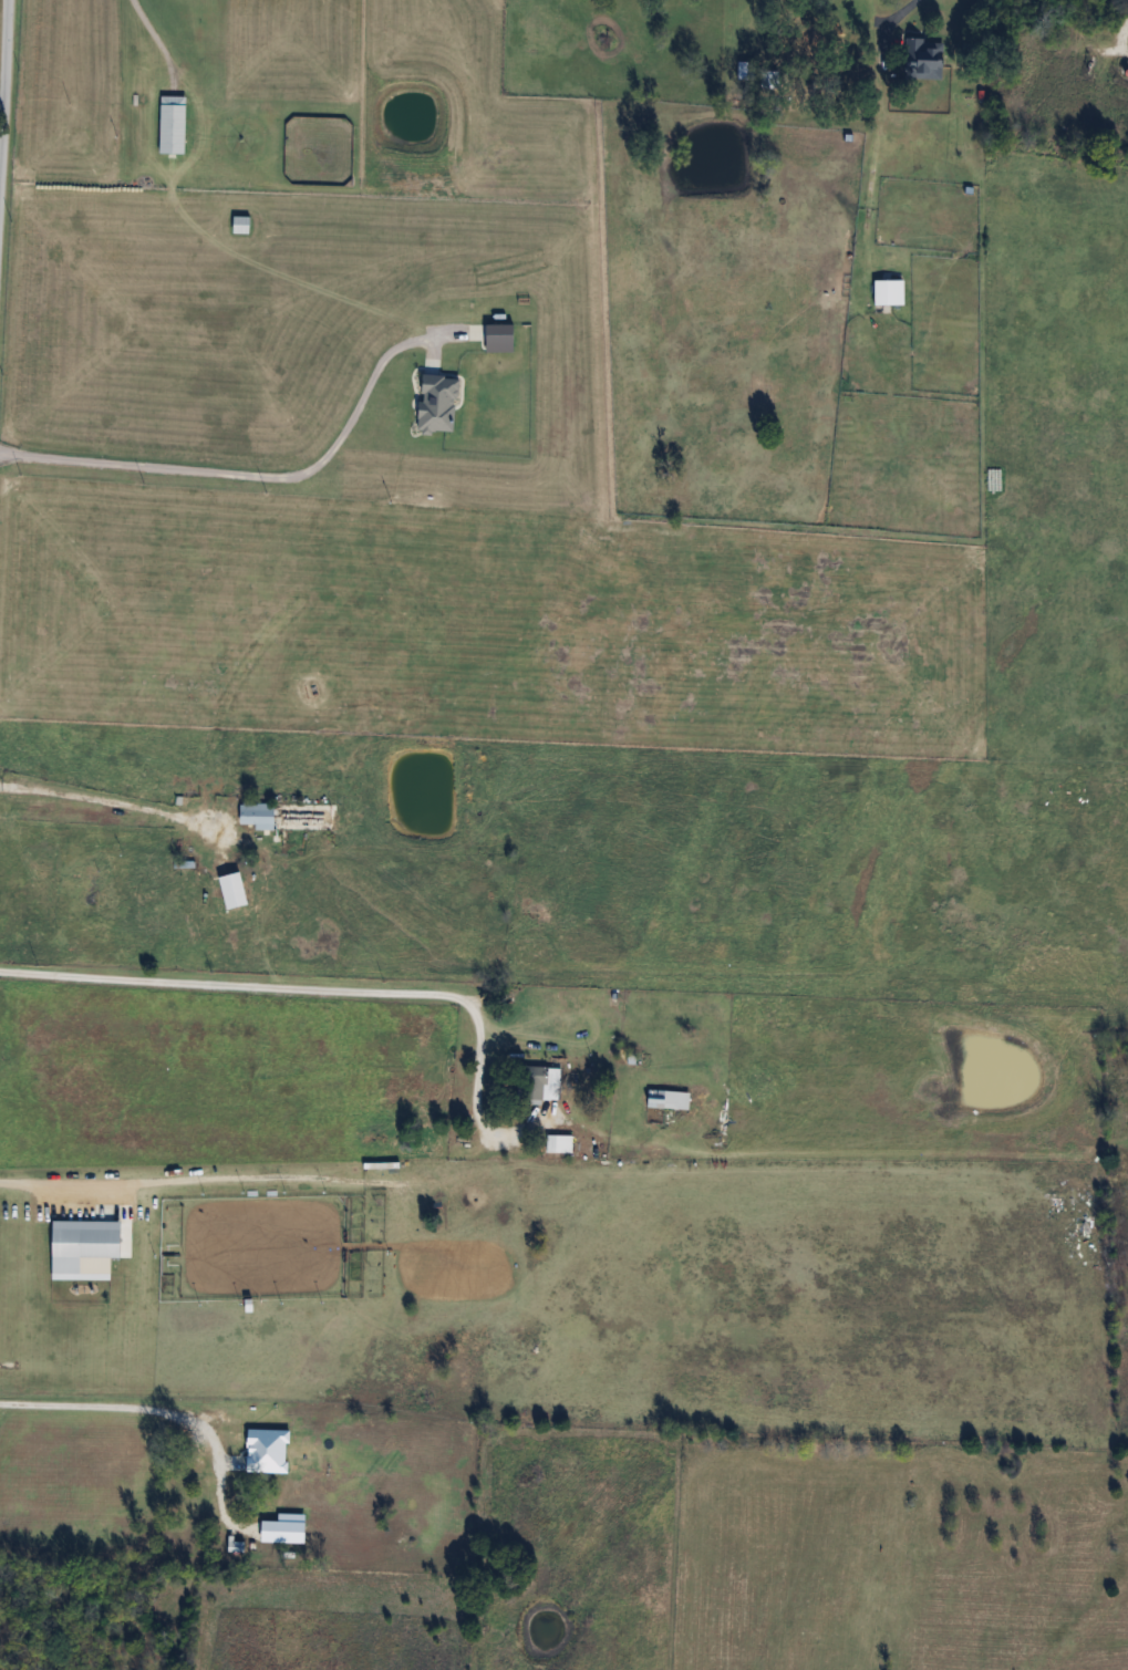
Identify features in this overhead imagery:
road: (907, 9)
road: (152, 25)
road: (1126, 30)
building: (924, 59)
road: (3, 77)
building: (174, 124)
building: (241, 224)
building: (890, 292)
road: (253, 474)
road: (110, 801)
building: (258, 816)
building: (92, 883)
road: (297, 985)
building: (542, 1083)
building: (670, 1100)
building: (560, 1144)
building: (102, 1243)
road: (142, 1406)
building: (226, 1459)

